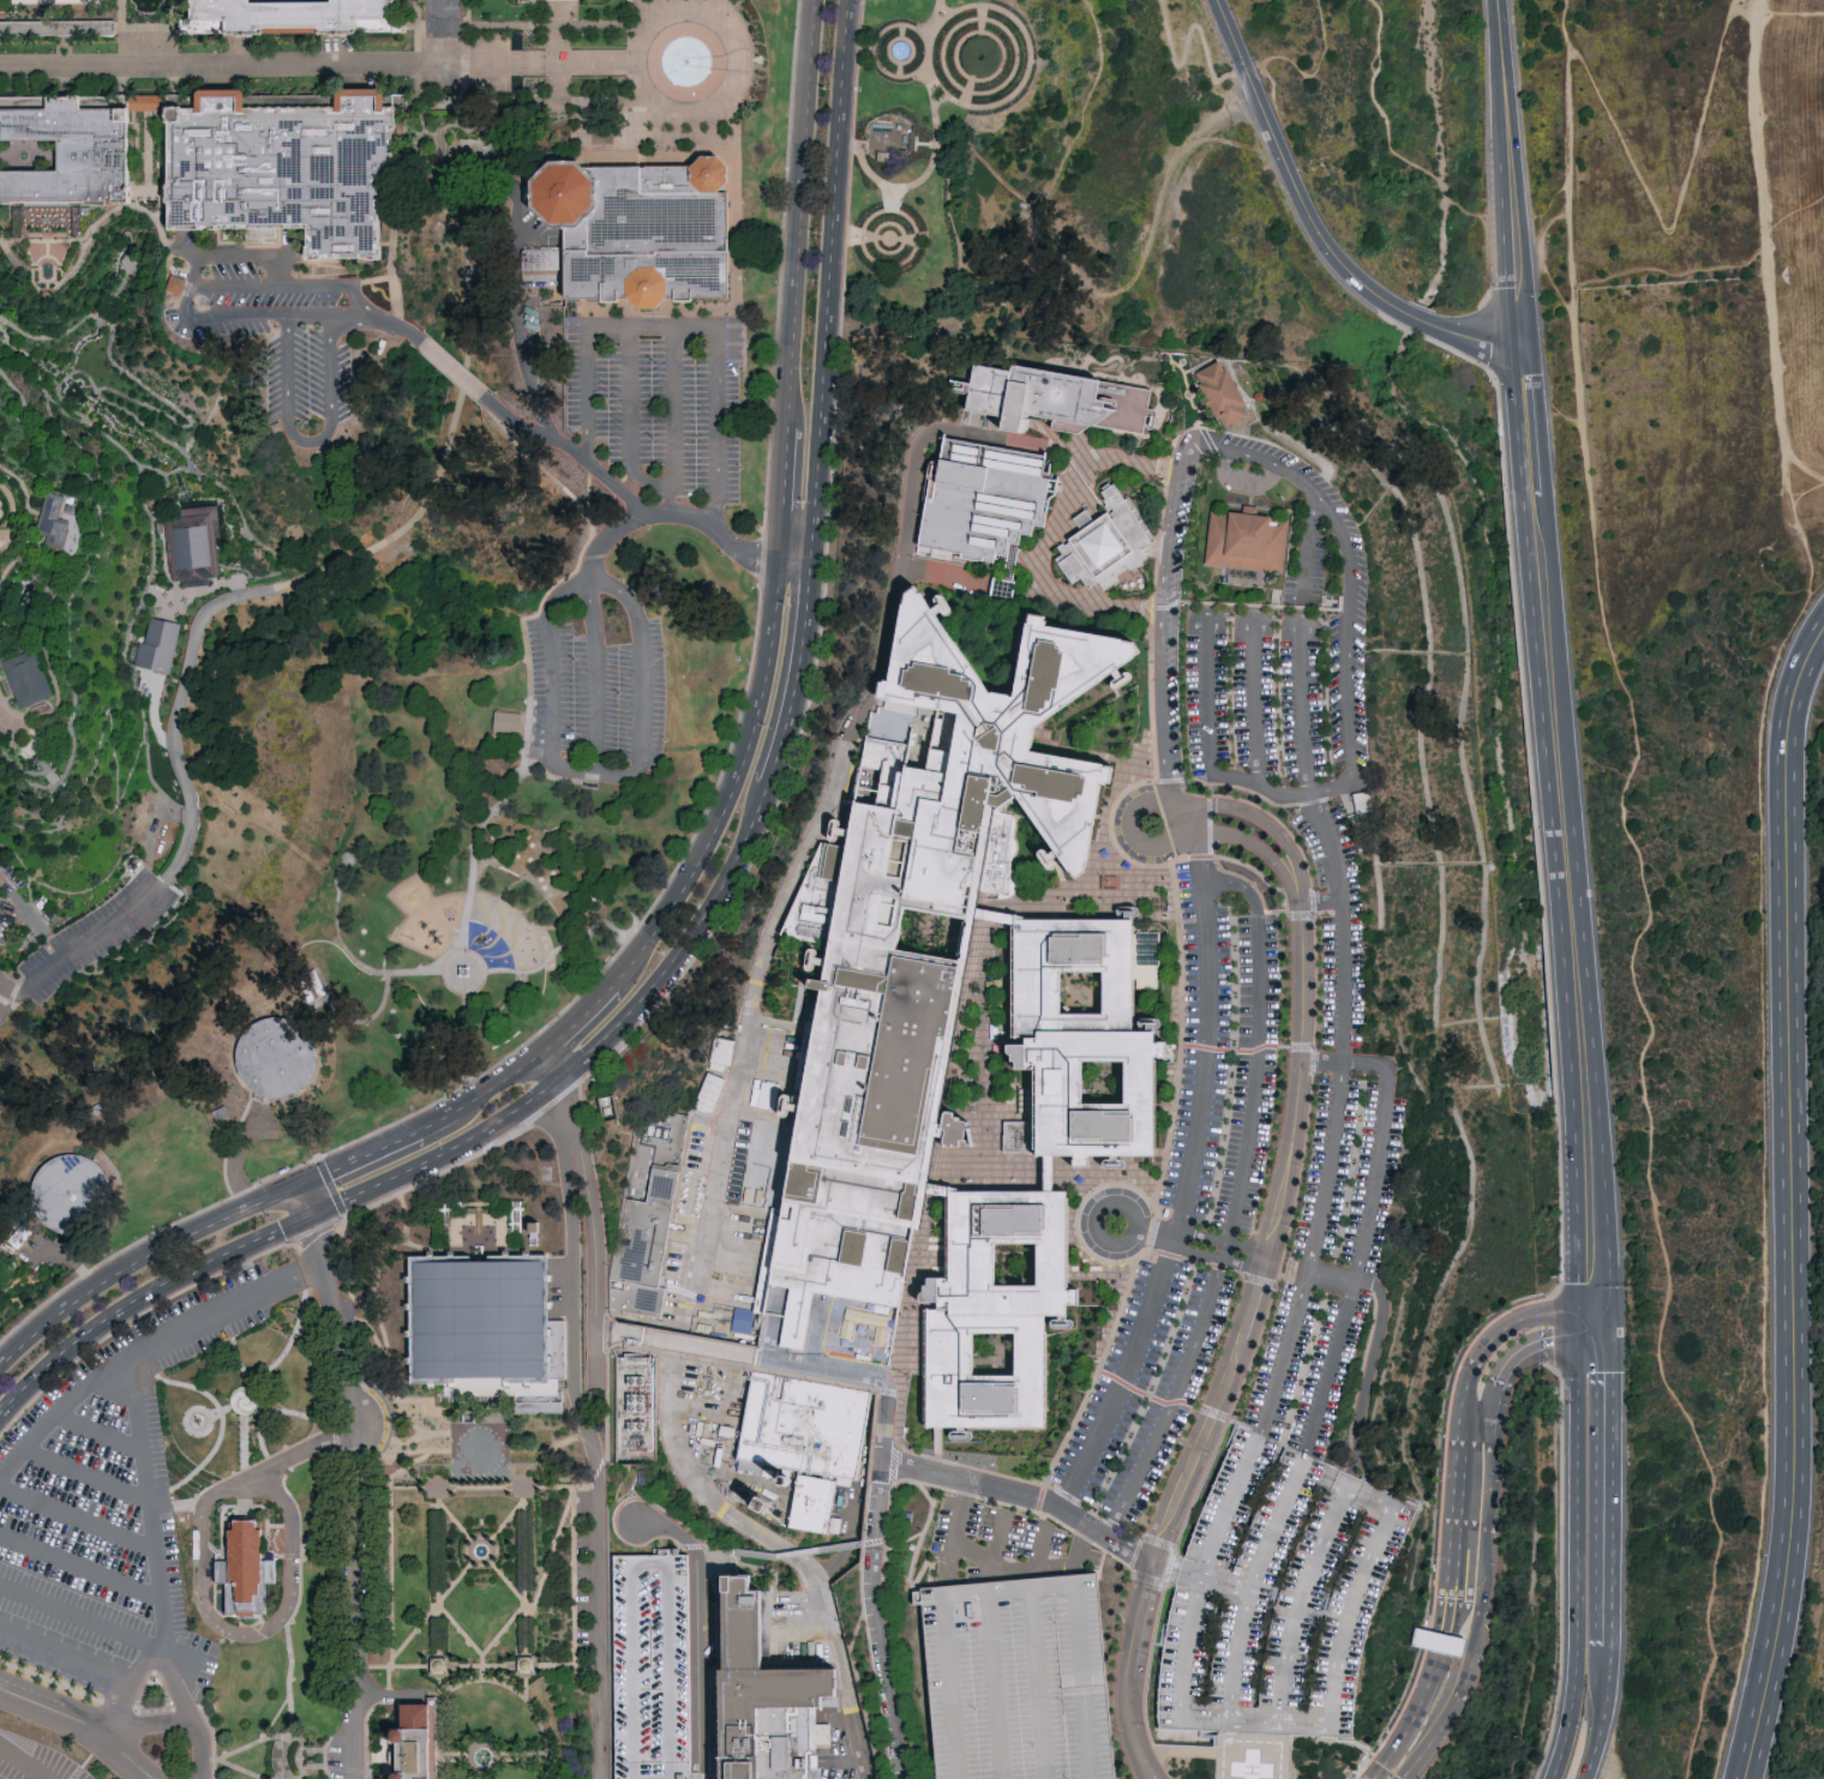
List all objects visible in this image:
road: (56, 1)
road: (944, 7)
road: (1739, 7)
road: (1792, 11)
road: (467, 12)
road: (983, 12)
building: (292, 18)
road: (415, 19)
road: (578, 22)
road: (1769, 23)
road: (896, 24)
road: (982, 25)
road: (1020, 25)
road: (295, 28)
road: (145, 29)
building: (56, 31)
road: (56, 31)
road: (241, 31)
road: (336, 31)
road: (900, 31)
road: (173, 34)
road: (443, 34)
road: (557, 34)
road: (121, 35)
road: (992, 37)
road: (979, 38)
road: (1189, 41)
road: (888, 46)
road: (62, 49)
fountain: (900, 50)
road: (241, 52)
road: (336, 52)
road: (926, 53)
road: (416, 54)
building: (979, 55)
road: (967, 56)
road: (464, 60)
fountain: (686, 65)
road: (612, 67)
road: (478, 68)
road: (221, 70)
road: (899, 70)
road: (856, 71)
road: (973, 74)
road: (893, 76)
road: (1314, 77)
road: (218, 78)
road: (358, 79)
road: (966, 91)
road: (967, 92)
road: (218, 95)
road: (358, 96)
road: (121, 101)
road: (173, 101)
road: (245, 102)
building: (146, 104)
road: (450, 106)
road: (148, 108)
park: (635, 108)
road: (635, 108)
road: (973, 108)
road: (443, 110)
road: (472, 112)
road: (425, 113)
road: (493, 118)
road: (422, 124)
road: (486, 127)
road: (439, 131)
road: (136, 132)
road: (482, 132)
road: (443, 138)
road: (1388, 140)
road: (419, 142)
road: (863, 143)
road: (148, 144)
road: (529, 144)
road: (924, 144)
road: (445, 146)
road: (485, 146)
road: (425, 148)
road: (438, 149)
building: (510, 150)
building: (68, 151)
road: (671, 156)
road: (28, 157)
fountain: (23, 158)
road: (157, 160)
road: (430, 161)
road: (985, 161)
road: (479, 163)
building: (283, 166)
road: (437, 167)
road: (451, 167)
road: (457, 167)
road: (440, 169)
road: (437, 172)
road: (918, 180)
road: (463, 181)
road: (848, 190)
road: (145, 191)
road: (154, 191)
road: (462, 198)
road: (161, 199)
road: (890, 200)
road: (1776, 202)
road: (394, 206)
road: (1792, 208)
road: (157, 214)
road: (798, 214)
road: (97, 217)
road: (474, 218)
road: (1548, 218)
road: (1526, 223)
road: (1674, 223)
road: (1309, 227)
road: (463, 230)
building: (638, 232)
road: (853, 236)
road: (163, 239)
road: (889, 239)
road: (4, 241)
road: (386, 244)
road: (1766, 248)
road: (892, 252)
road: (79, 253)
road: (235, 260)
road: (12, 262)
road: (64, 262)
road: (347, 266)
road: (889, 266)
fountain: (46, 270)
road: (1544, 270)
road: (737, 271)
road: (1673, 275)
road: (336, 276)
road: (48, 278)
road: (370, 278)
road: (1060, 278)
road: (828, 281)
road: (46, 283)
building: (180, 284)
road: (42, 286)
road: (238, 289)
road: (704, 301)
road: (367, 312)
road: (222, 318)
road: (103, 319)
road: (1, 320)
road: (395, 326)
parking lot: (276, 330)
road: (683, 332)
road: (50, 337)
road: (50, 362)
road: (72, 368)
road: (450, 369)
road: (527, 374)
road: (65, 379)
road: (42, 383)
road: (58, 384)
building: (1220, 396)
building: (1055, 401)
road: (89, 404)
parking lot: (662, 405)
road: (190, 423)
road: (672, 423)
road: (516, 425)
road: (629, 425)
road: (64, 432)
road: (152, 432)
road: (108, 437)
road: (308, 444)
road: (1063, 450)
road: (1252, 455)
road: (536, 465)
road: (175, 471)
road: (1801, 494)
road: (781, 495)
building: (979, 504)
road: (34, 515)
road: (235, 515)
road: (0, 516)
road: (689, 517)
road: (8, 519)
road: (12, 519)
road: (17, 519)
building: (53, 523)
road: (1811, 523)
road: (4, 536)
building: (1246, 543)
road: (28, 545)
building: (192, 547)
road: (215, 547)
building: (1104, 548)
road: (1309, 548)
road: (152, 551)
road: (94, 561)
road: (311, 579)
road: (1814, 587)
road: (35, 611)
road: (535, 617)
road: (1, 629)
road: (1541, 629)
building: (158, 647)
road: (797, 674)
road: (600, 675)
building: (25, 681)
road: (53, 685)
parking lot: (598, 687)
road: (810, 691)
road: (1253, 709)
road: (1302, 711)
building: (502, 720)
road: (12, 728)
parking lot: (12, 731)
road: (32, 745)
road: (1208, 752)
road: (19, 771)
road: (607, 775)
road: (26, 781)
road: (730, 787)
road: (1134, 827)
road: (1270, 828)
road: (1258, 849)
road: (688, 852)
road: (1334, 869)
park: (912, 889)
road: (1655, 900)
road: (469, 906)
parking lot: (92, 940)
road: (85, 943)
road: (684, 946)
road: (450, 974)
building: (317, 985)
road: (4, 987)
road: (4, 996)
building: (889, 996)
parking lot: (1342, 1000)
road: (576, 1017)
road: (371, 1022)
road: (1206, 1038)
building: (720, 1050)
road: (1258, 1051)
building: (280, 1059)
road: (550, 1065)
road: (481, 1092)
road: (572, 1092)
road: (562, 1105)
road: (1765, 1107)
road: (516, 1110)
road: (545, 1117)
road: (725, 1118)
road: (232, 1144)
road: (238, 1158)
road: (359, 1158)
road: (1330, 1171)
road: (434, 1177)
road: (394, 1178)
traffic signals: (300, 1185)
road: (332, 1191)
building: (74, 1192)
road: (274, 1196)
parking lot: (1189, 1197)
road: (306, 1201)
road: (1794, 1204)
road: (409, 1215)
building: (647, 1215)
traffic signals: (312, 1216)
road: (1369, 1216)
road: (204, 1226)
road: (317, 1231)
road: (1146, 1231)
building: (22, 1233)
road: (594, 1240)
road: (248, 1244)
road: (1200, 1244)
road: (71, 1263)
road: (343, 1275)
park: (17, 1278)
road: (1583, 1286)
road: (1598, 1286)
road: (74, 1298)
road: (1384, 1305)
road: (226, 1311)
traffic signals: (1576, 1315)
road: (1591, 1315)
road: (134, 1316)
road: (377, 1317)
building: (739, 1320)
road: (846, 1324)
road: (1576, 1329)
road: (1607, 1329)
building: (490, 1333)
road: (84, 1334)
road: (378, 1338)
traffic signals: (1576, 1345)
road: (1591, 1345)
traffic signals: (1607, 1345)
road: (288, 1346)
road: (1241, 1352)
road: (596, 1354)
road: (793, 1366)
road: (1126, 1377)
road: (1174, 1396)
road: (283, 1413)
building: (635, 1413)
road: (56, 1416)
road: (224, 1416)
road: (210, 1420)
road: (101, 1429)
road: (244, 1429)
road: (140, 1435)
building: (804, 1443)
road: (593, 1452)
road: (296, 1458)
road: (262, 1461)
road: (409, 1467)
road: (918, 1471)
road: (89, 1473)
road: (496, 1487)
road: (350, 1495)
road: (1608, 1495)
road: (1454, 1496)
road: (326, 1499)
road: (185, 1503)
parking lot: (112, 1507)
road: (79, 1515)
road: (1488, 1528)
road: (1100, 1532)
road: (876, 1535)
road: (958, 1535)
road: (998, 1540)
parking lot: (1001, 1547)
road: (1039, 1551)
road: (556, 1556)
building: (246, 1557)
road: (988, 1562)
road: (1577, 1563)
road: (83, 1564)
road: (785, 1564)
road: (649, 1568)
road: (1056, 1569)
road: (500, 1573)
road: (467, 1574)
road: (162, 1575)
road: (529, 1576)
road: (394, 1577)
road: (442, 1577)
road: (576, 1582)
road: (1247, 1591)
road: (965, 1599)
building: (1277, 1599)
parking lot: (1277, 1599)
road: (78, 1611)
road: (696, 1628)
road: (257, 1631)
road: (468, 1635)
building: (1434, 1641)
road: (67, 1655)
road: (475, 1667)
building: (649, 1667)
parking lot: (649, 1667)
road: (294, 1677)
road: (178, 1679)
building: (1016, 1681)
parking lot: (1016, 1681)
road: (50, 1682)
road: (134, 1683)
road: (448, 1683)
road: (490, 1683)
road: (529, 1683)
road: (1334, 1684)
road: (394, 1685)
road: (162, 1687)
road: (1039, 1687)
road: (996, 1688)
road: (888, 1694)
building: (761, 1699)
road: (118, 1707)
road: (54, 1708)
road: (1602, 1714)
road: (175, 1721)
road: (133, 1724)
road: (209, 1727)
road: (109, 1731)
park: (1812, 1731)
road: (373, 1735)
road: (266, 1737)
road: (1088, 1739)
road: (334, 1744)
building: (416, 1744)
road: (204, 1748)
road: (1180, 1755)
road: (130, 1757)
road: (499, 1757)
road: (28, 1759)
parking lot: (36, 1759)
road: (307, 1760)
road: (1399, 1762)
road: (1597, 1765)
road: (325, 1766)
road: (239, 1767)
road: (1154, 1774)
helipad: (1252, 1777)

